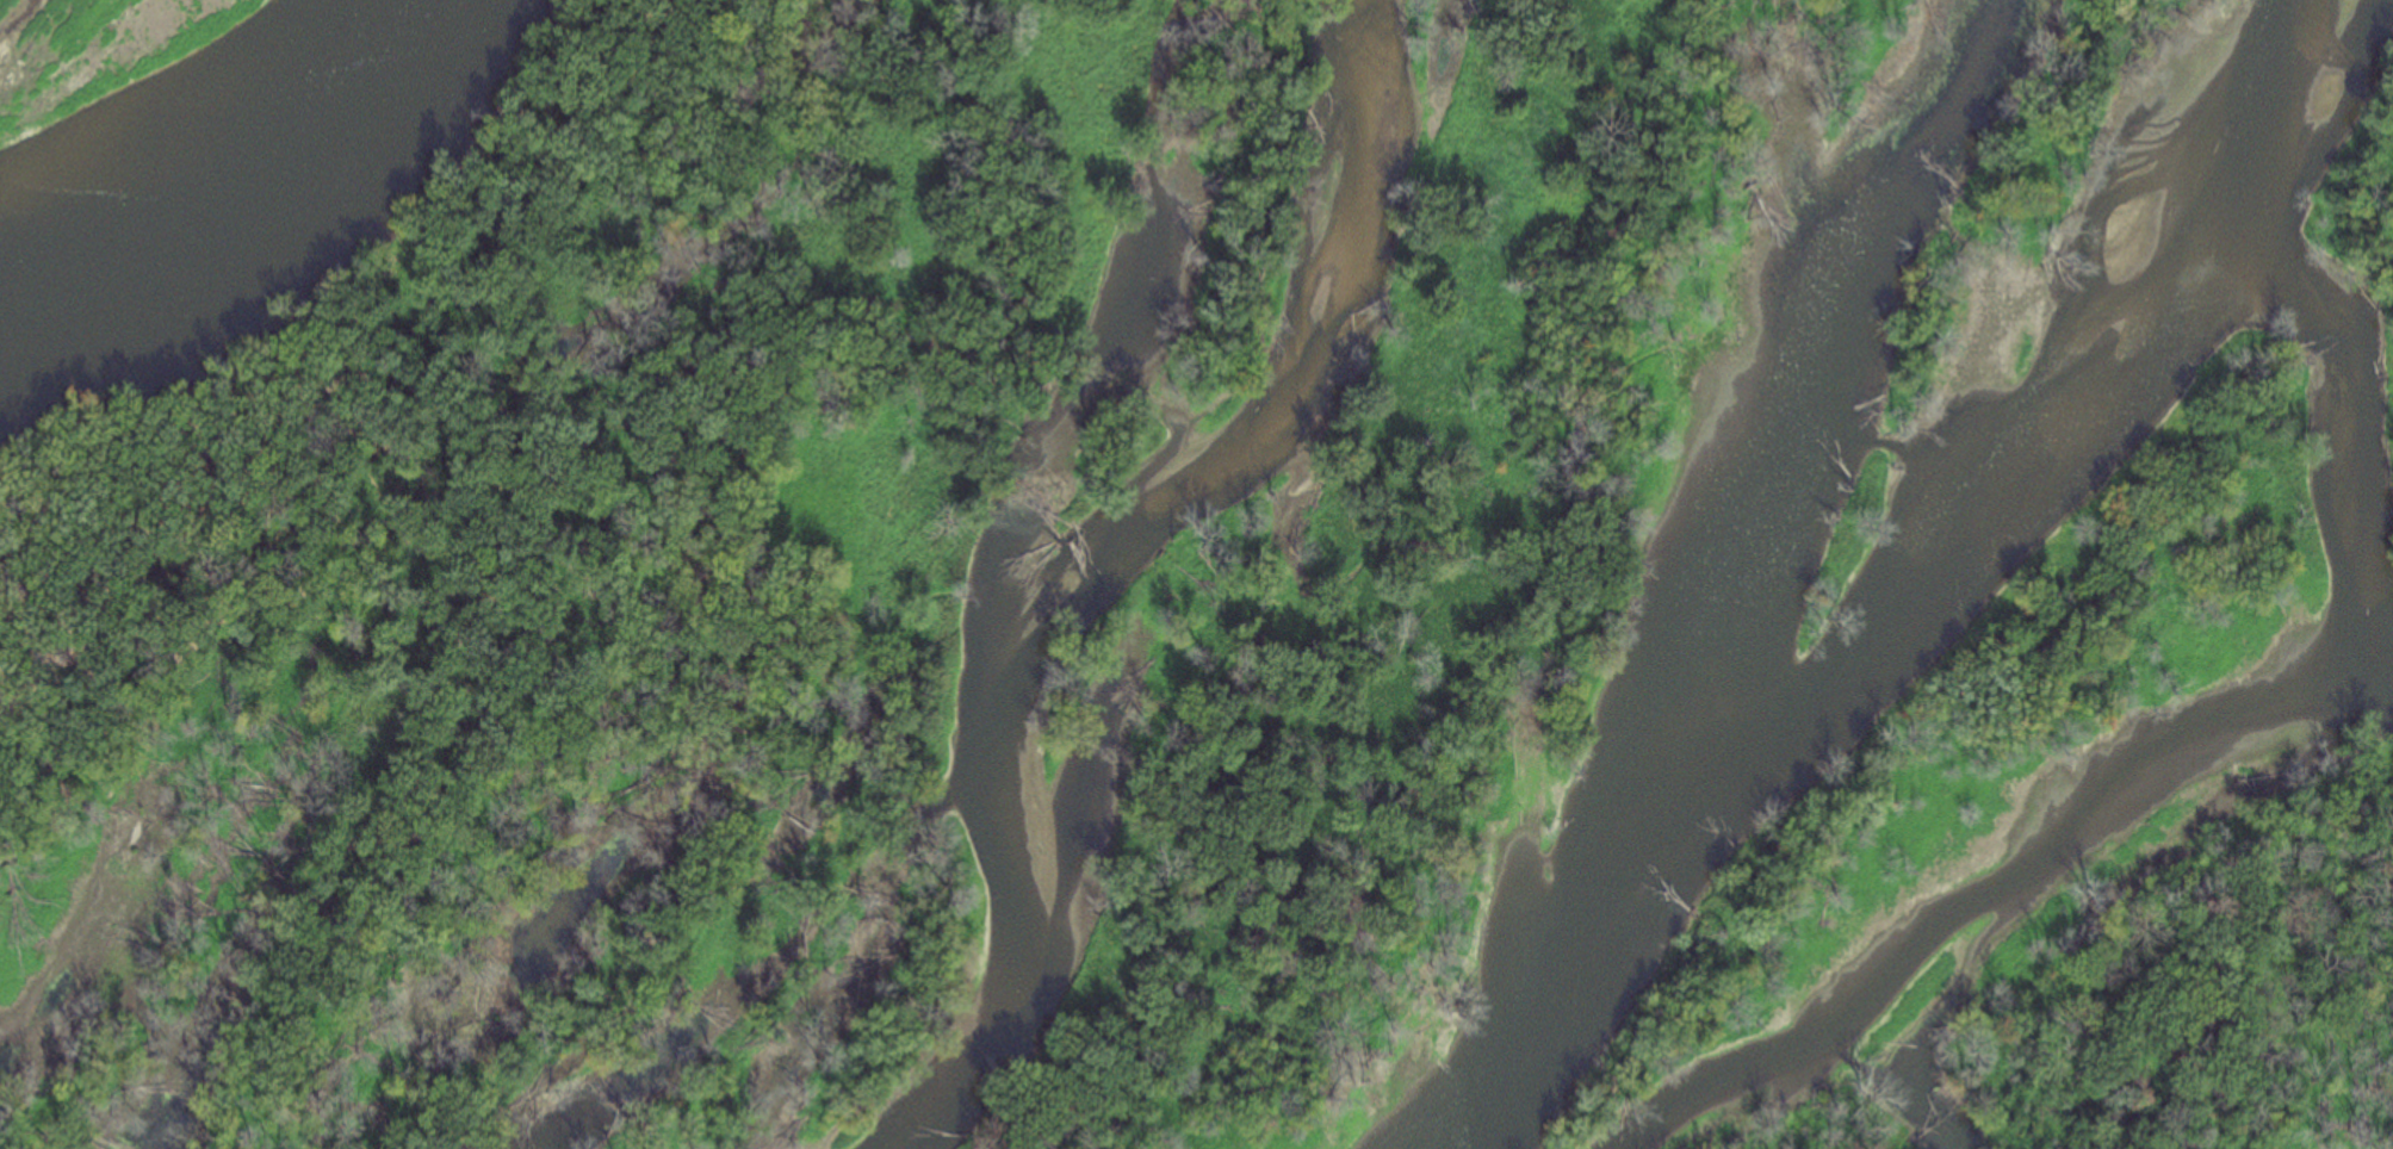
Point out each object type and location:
river: (157, 116)

